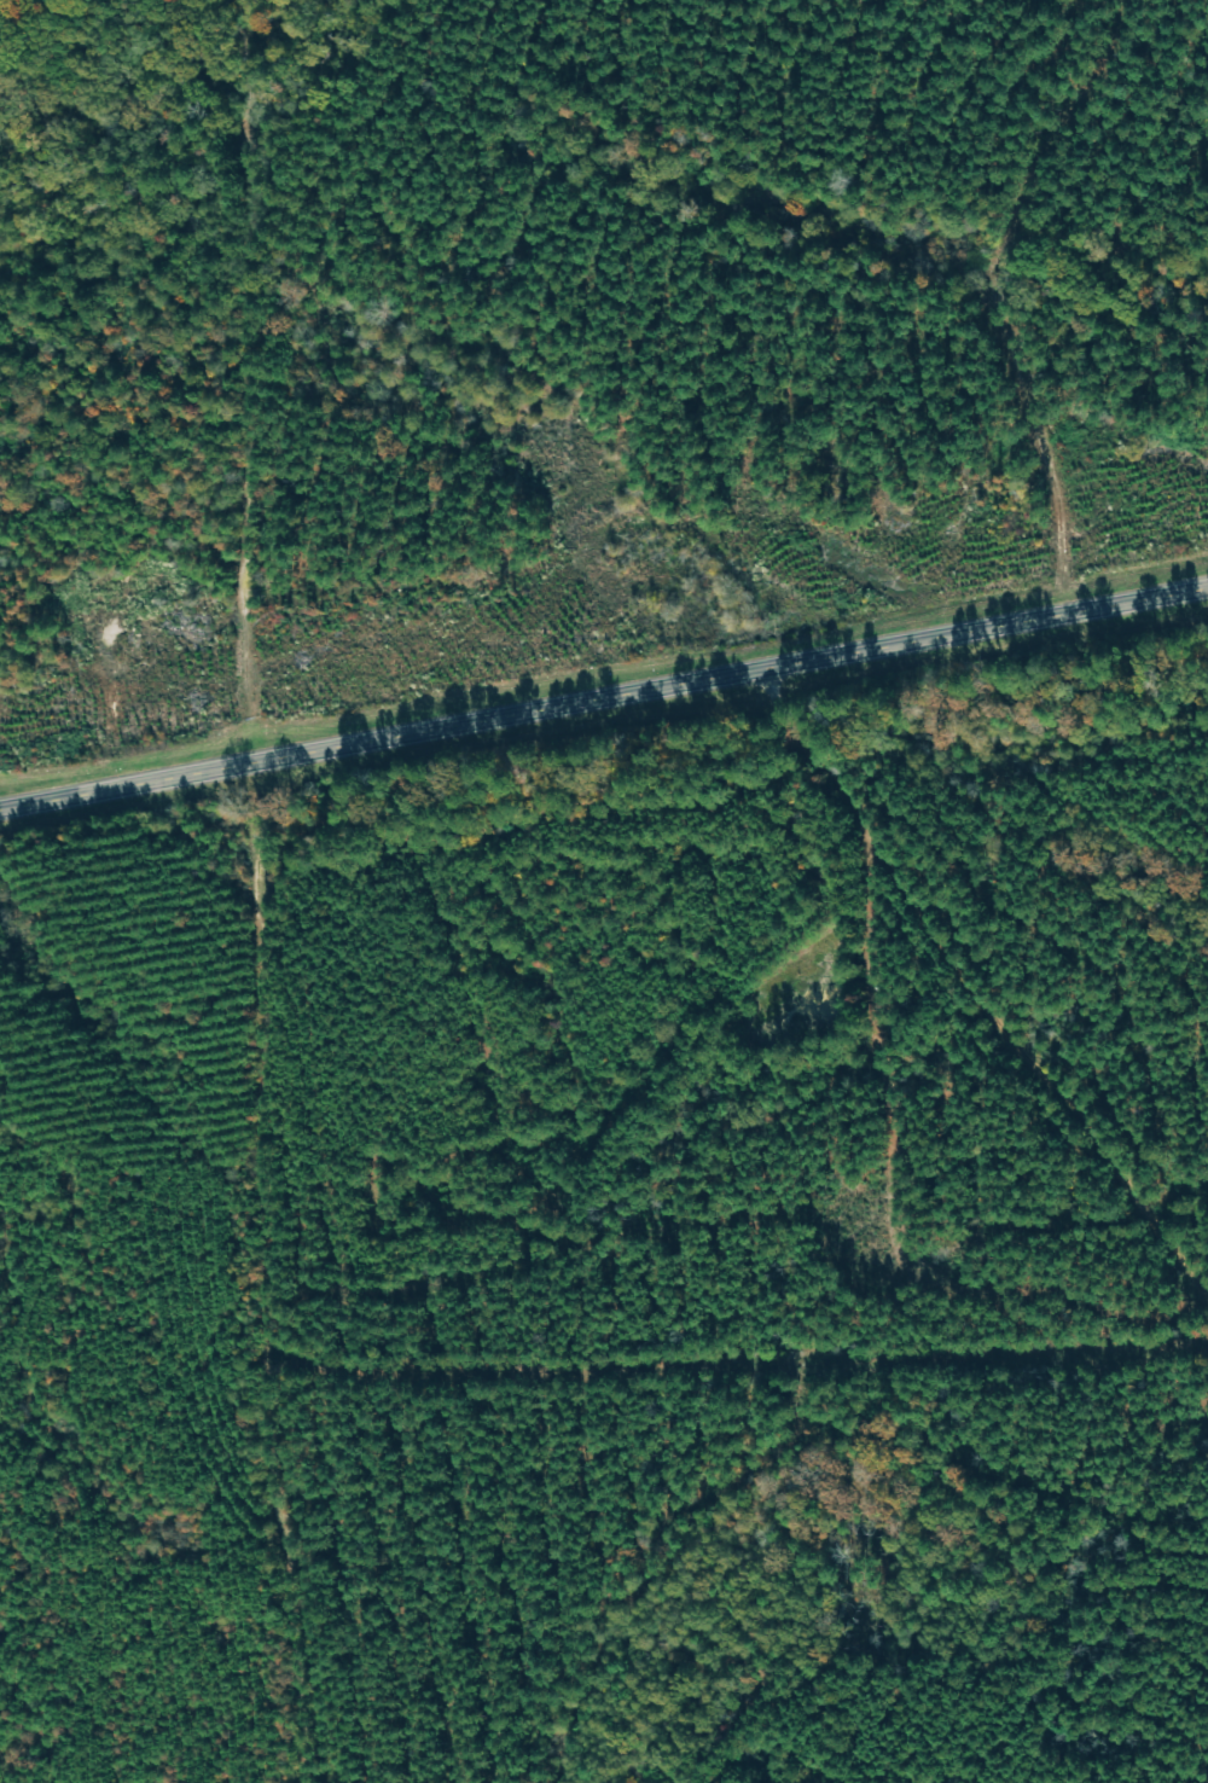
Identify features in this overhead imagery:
road: (604, 696)

